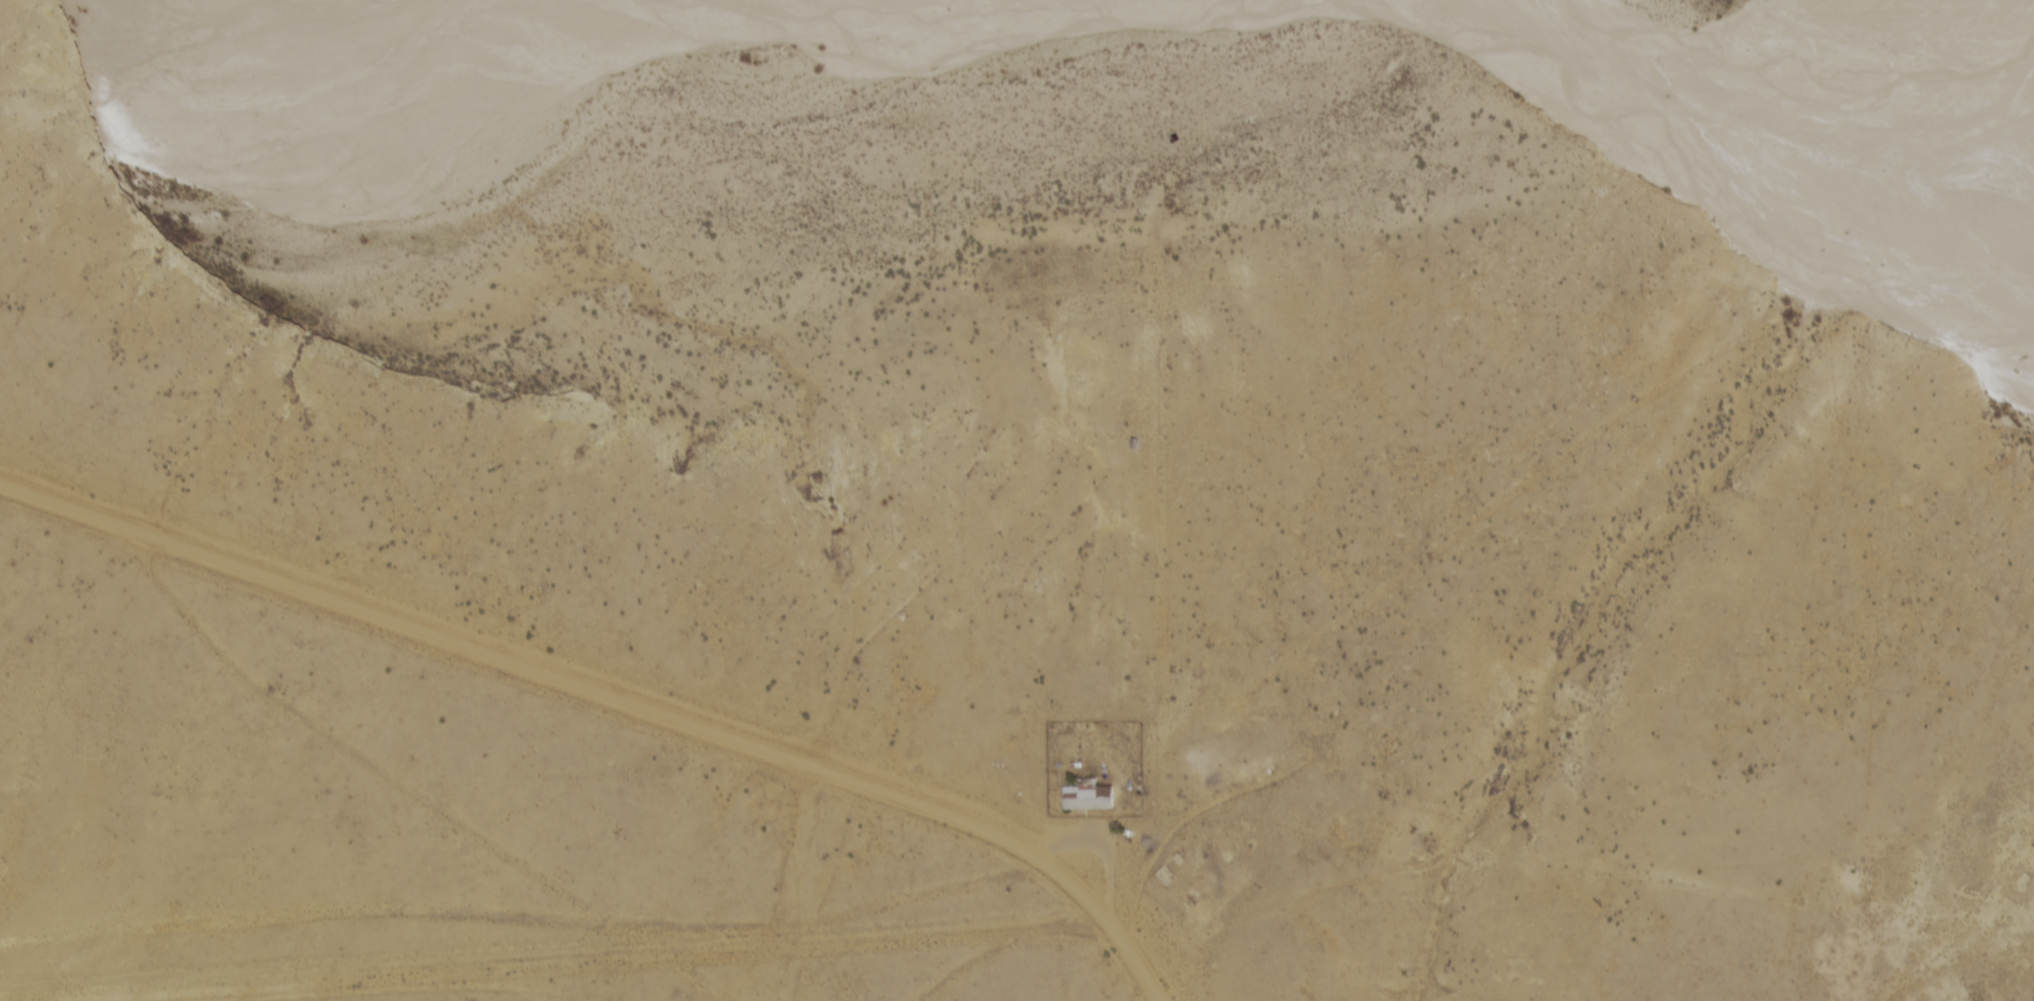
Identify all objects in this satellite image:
river: (1719, 203)
river: (1921, 223)
road: (610, 696)
building: (1085, 798)
airport runway: (514, 958)

